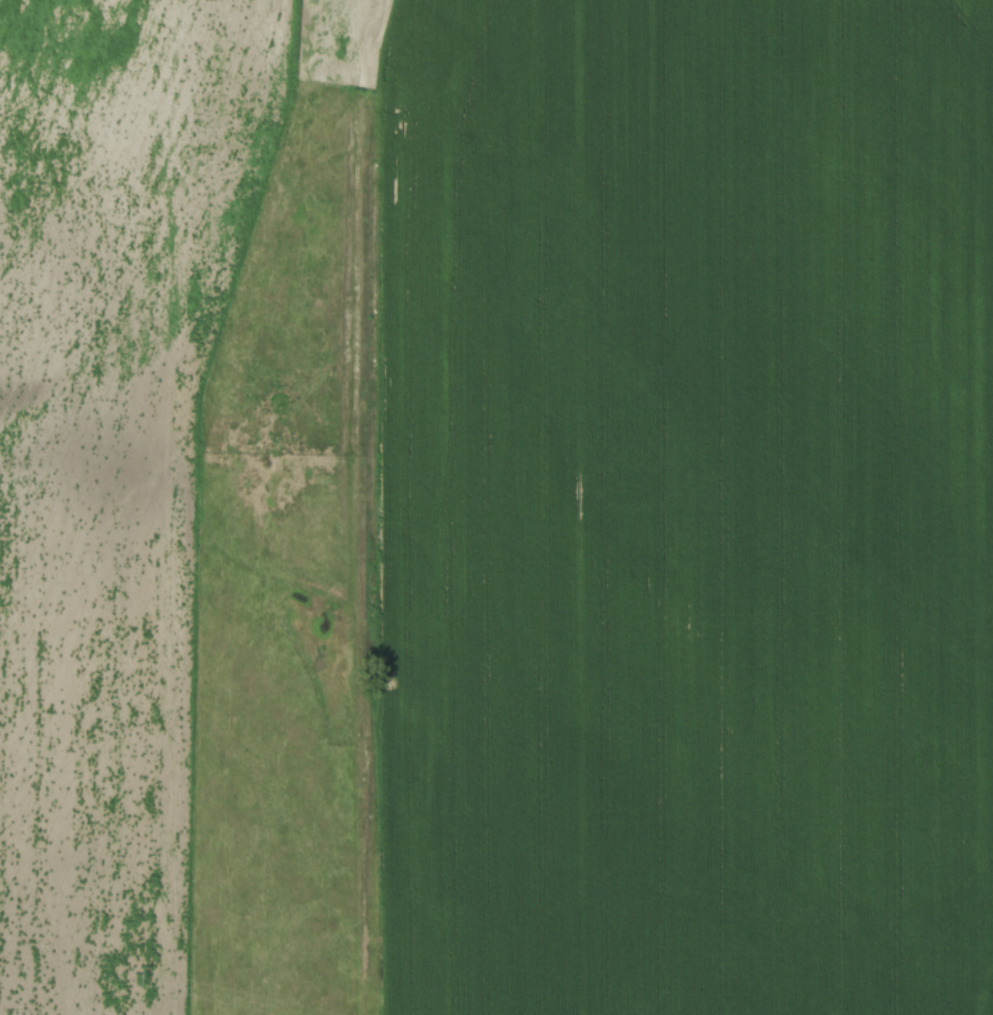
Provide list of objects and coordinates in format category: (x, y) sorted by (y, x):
power tower: (147, 983)

